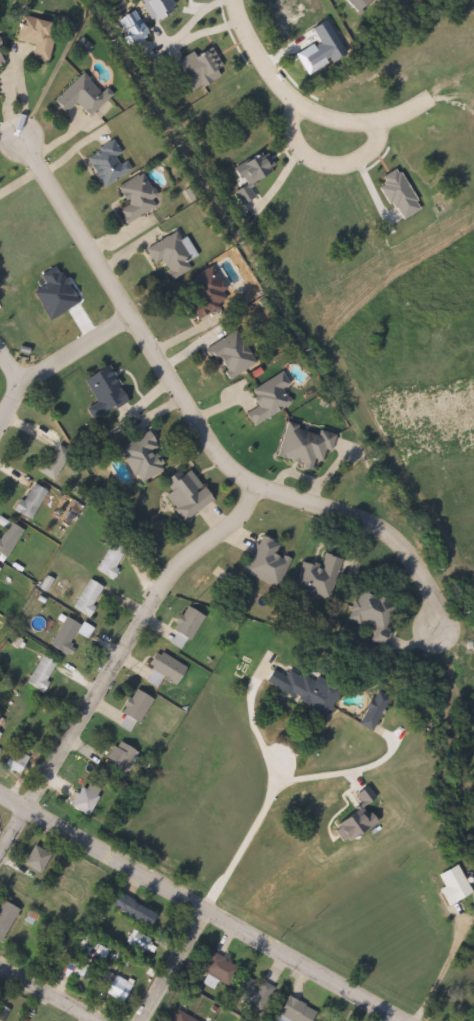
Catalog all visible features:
building: (354, 4)
building: (41, 36)
building: (4, 60)
road: (279, 82)
building: (84, 96)
building: (0, 99)
building: (105, 163)
building: (133, 199)
building: (169, 253)
building: (204, 295)
road: (69, 350)
building: (100, 390)
road: (11, 395)
building: (267, 398)
road: (198, 427)
building: (300, 445)
building: (140, 457)
building: (52, 462)
building: (181, 492)
building: (26, 501)
building: (6, 537)
building: (107, 559)
building: (316, 577)
building: (84, 597)
building: (370, 611)
building: (184, 623)
building: (60, 635)
road: (114, 658)
building: (162, 667)
building: (37, 673)
building: (306, 688)
building: (131, 709)
building: (371, 711)
building: (0, 738)
building: (116, 759)
building: (12, 761)
building: (81, 797)
road: (244, 839)
building: (41, 859)
building: (450, 886)
road: (198, 911)
building: (141, 912)
building: (9, 919)
building: (141, 942)
road: (435, 966)
road: (172, 967)
building: (223, 969)
building: (122, 989)
road: (44, 996)
building: (251, 999)
building: (297, 1011)
building: (190, 1017)
road: (390, 1018)
building: (171, 1020)

